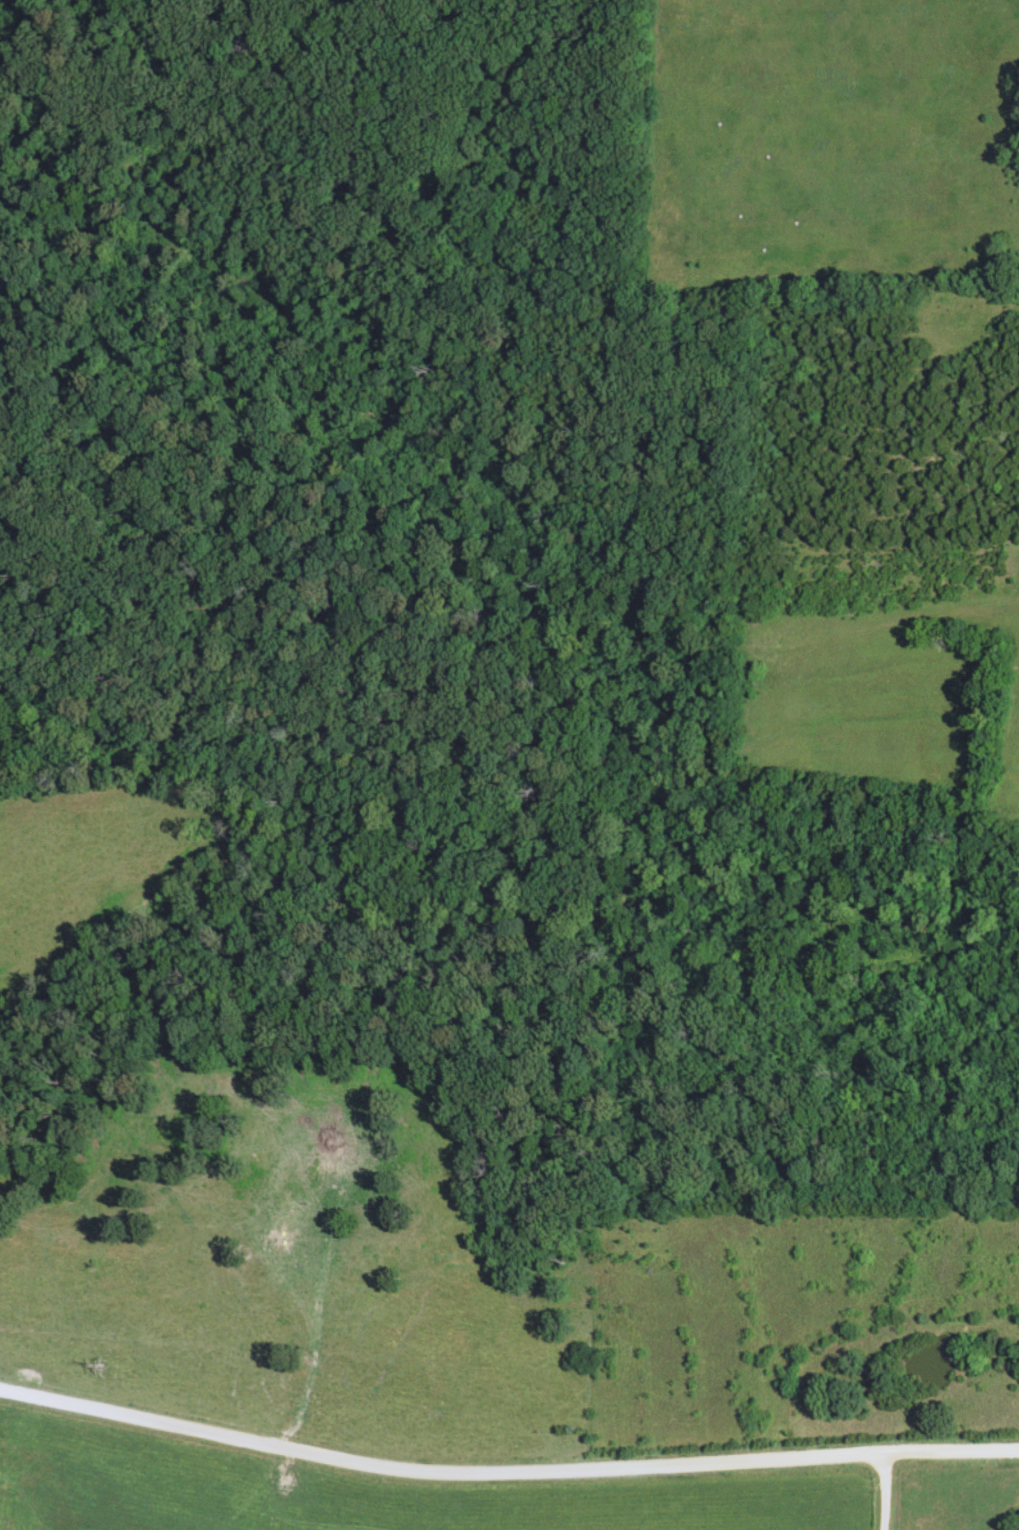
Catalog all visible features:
road: (505, 1472)
road: (889, 1494)

